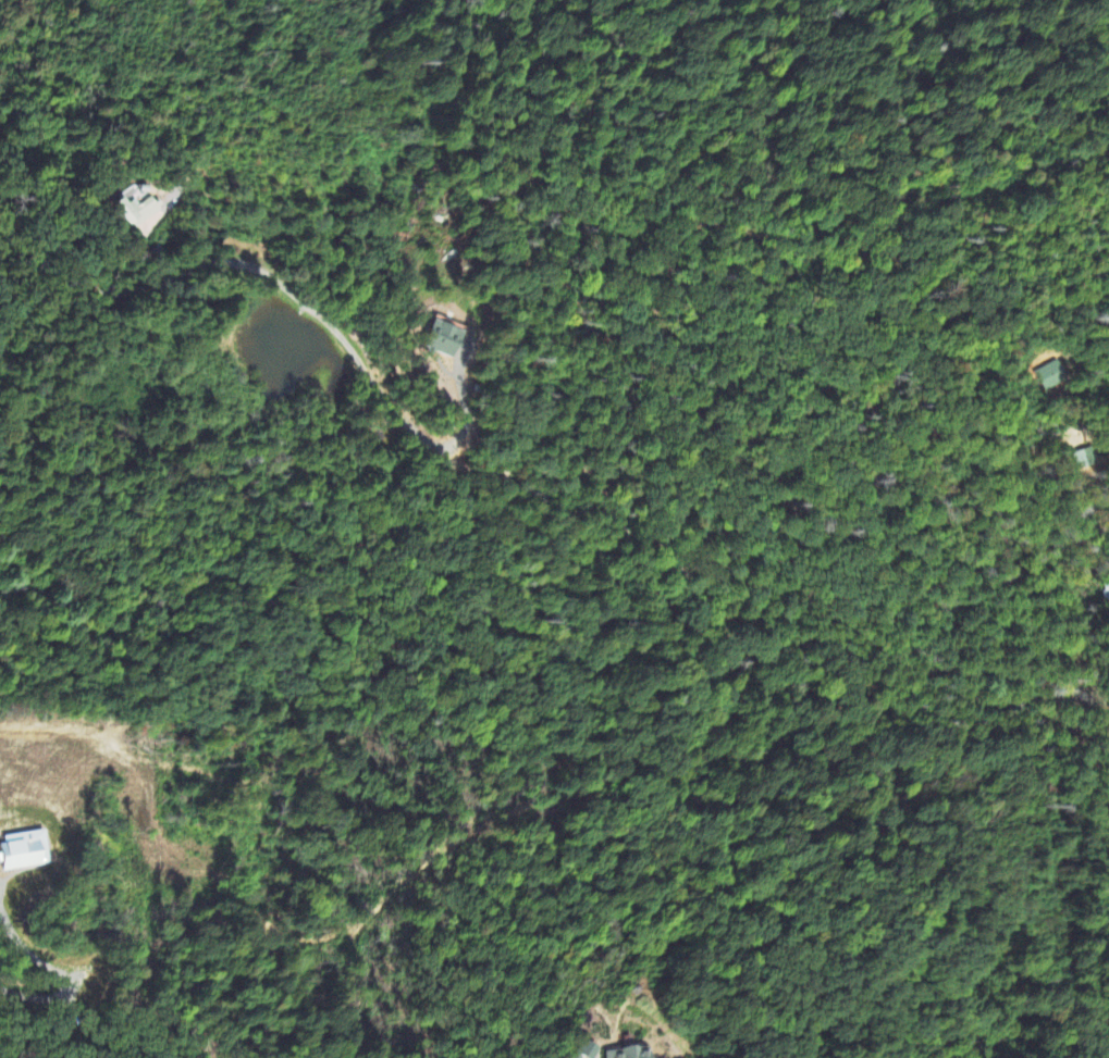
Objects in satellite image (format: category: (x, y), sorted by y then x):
road: (292, 295)
building: (442, 338)
building: (1051, 375)
building: (1084, 458)
building: (1106, 593)
building: (23, 850)
building: (583, 1050)
building: (626, 1053)

